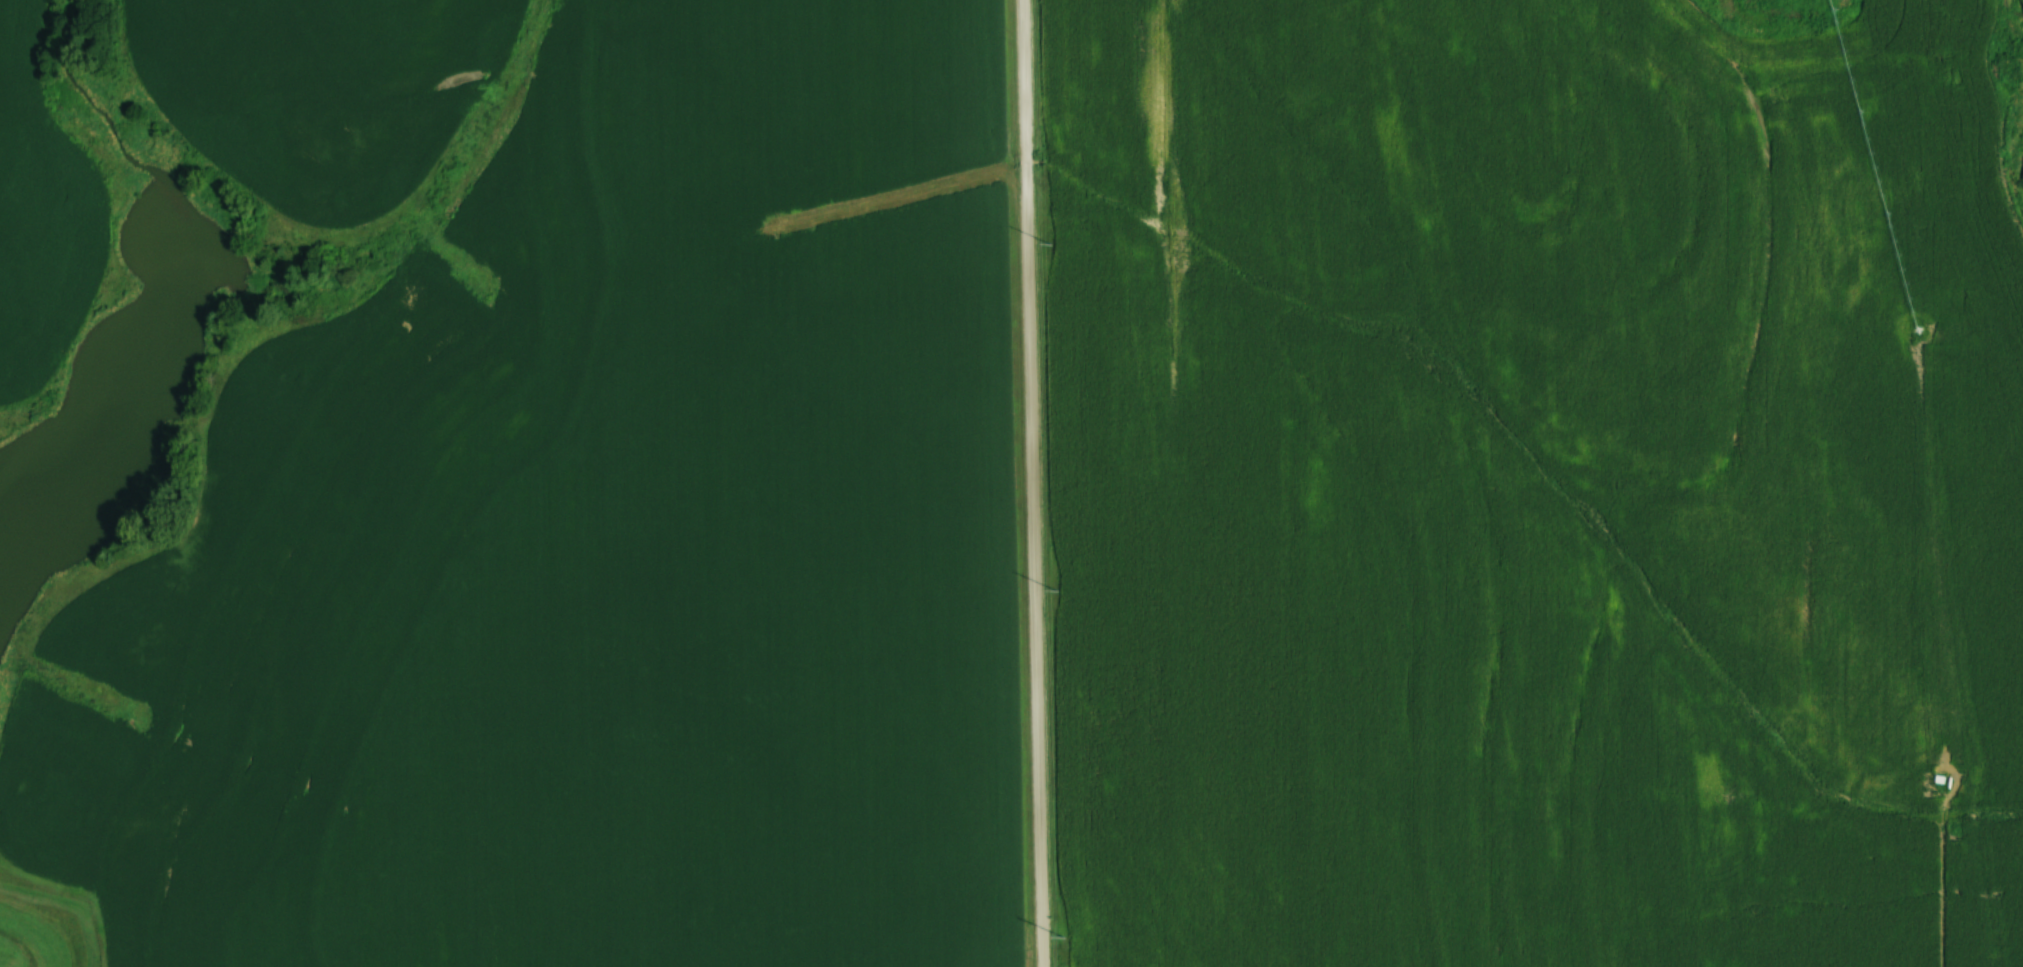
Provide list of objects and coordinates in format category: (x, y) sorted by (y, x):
road: (1037, 483)

